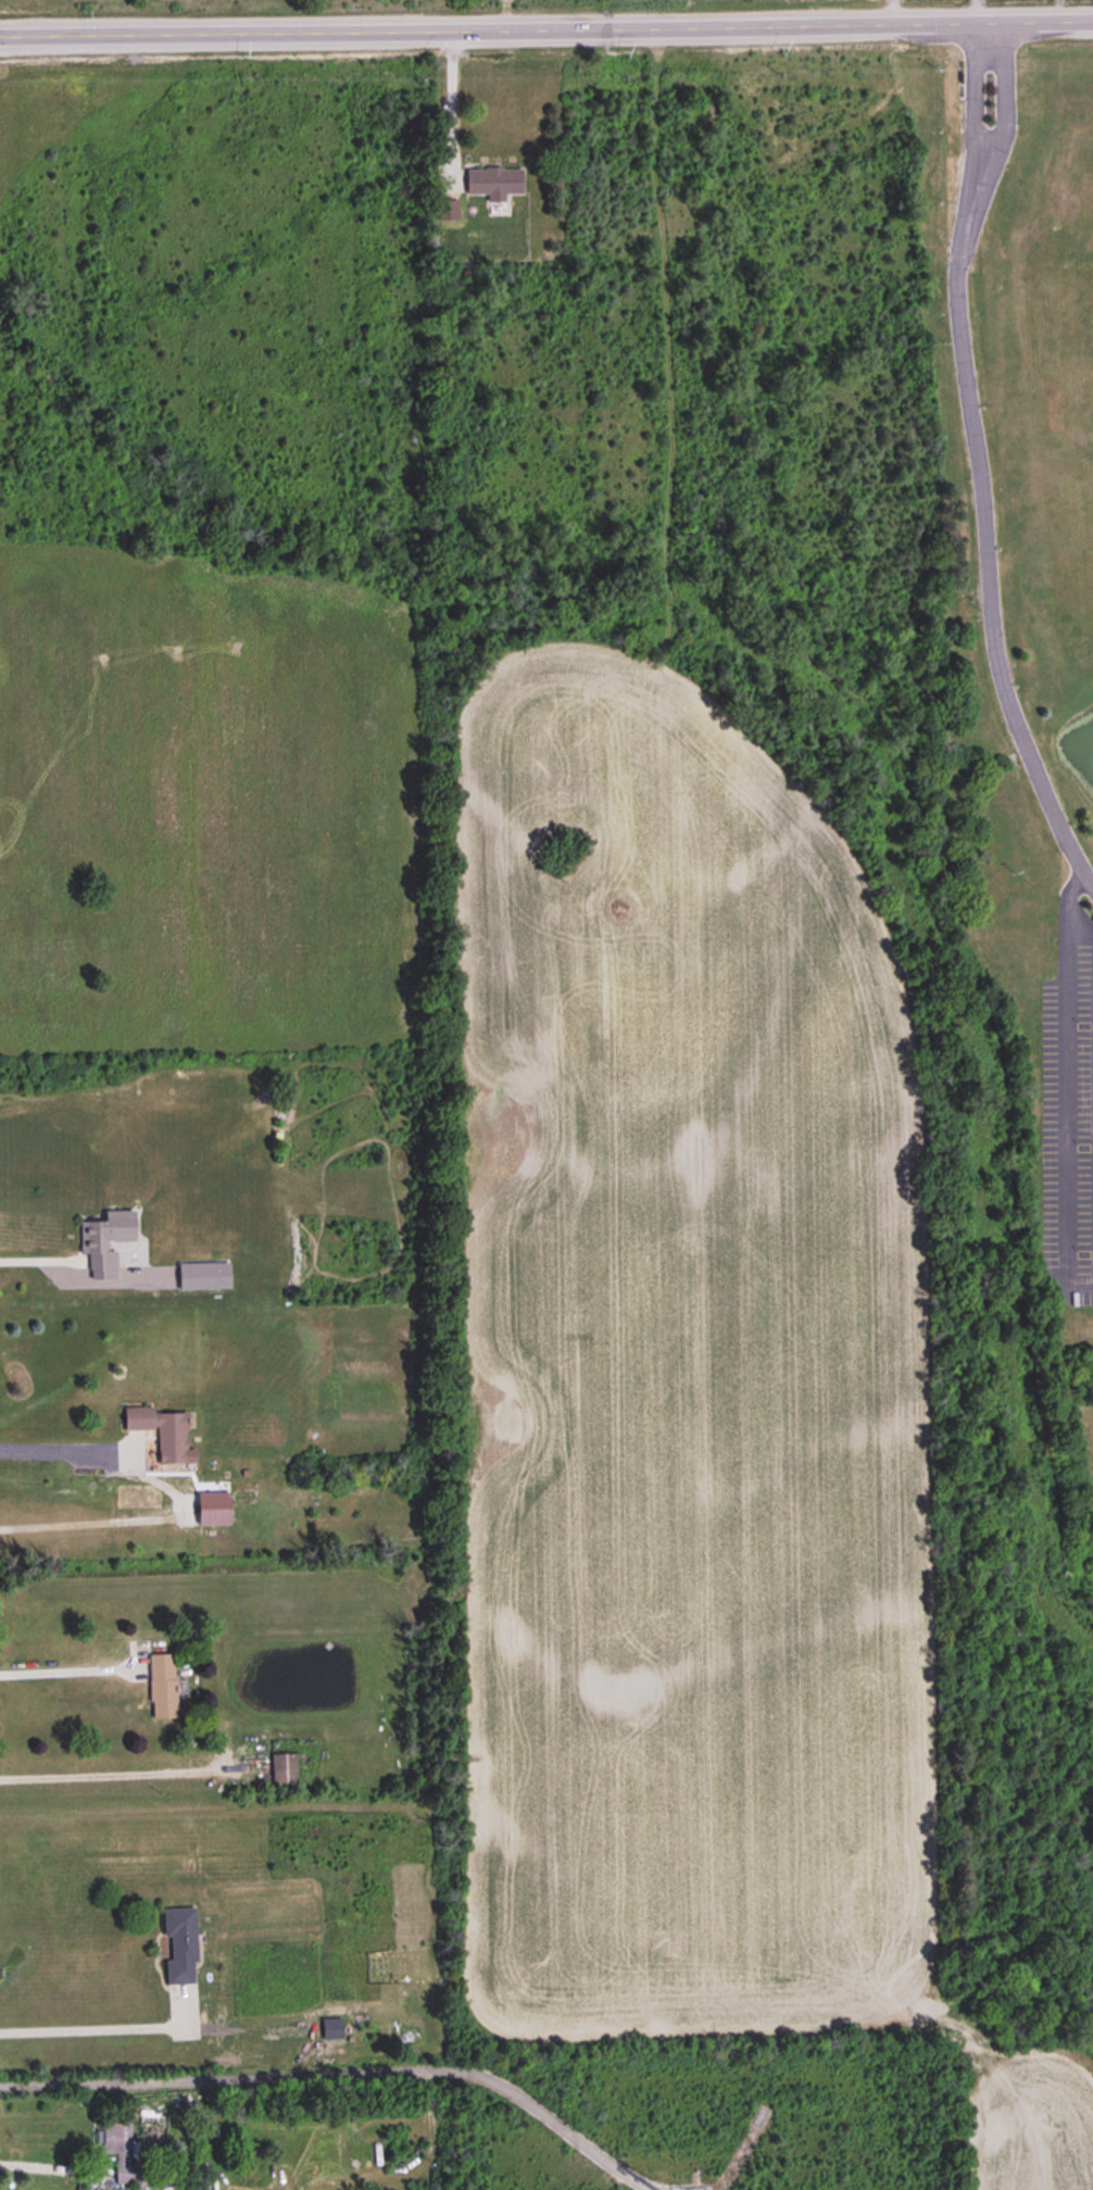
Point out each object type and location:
road: (891, 9)
road: (545, 23)
road: (447, 101)
building: (493, 183)
road: (973, 464)
road: (1065, 1087)
building: (95, 1244)
road: (41, 1259)
building: (197, 1277)
building: (160, 1432)
road: (176, 1499)
road: (64, 1669)
building: (162, 1688)
building: (284, 1770)
road: (115, 1774)
building: (179, 1945)
road: (95, 2027)
building: (331, 2029)
building: (121, 2152)
road: (53, 2167)

